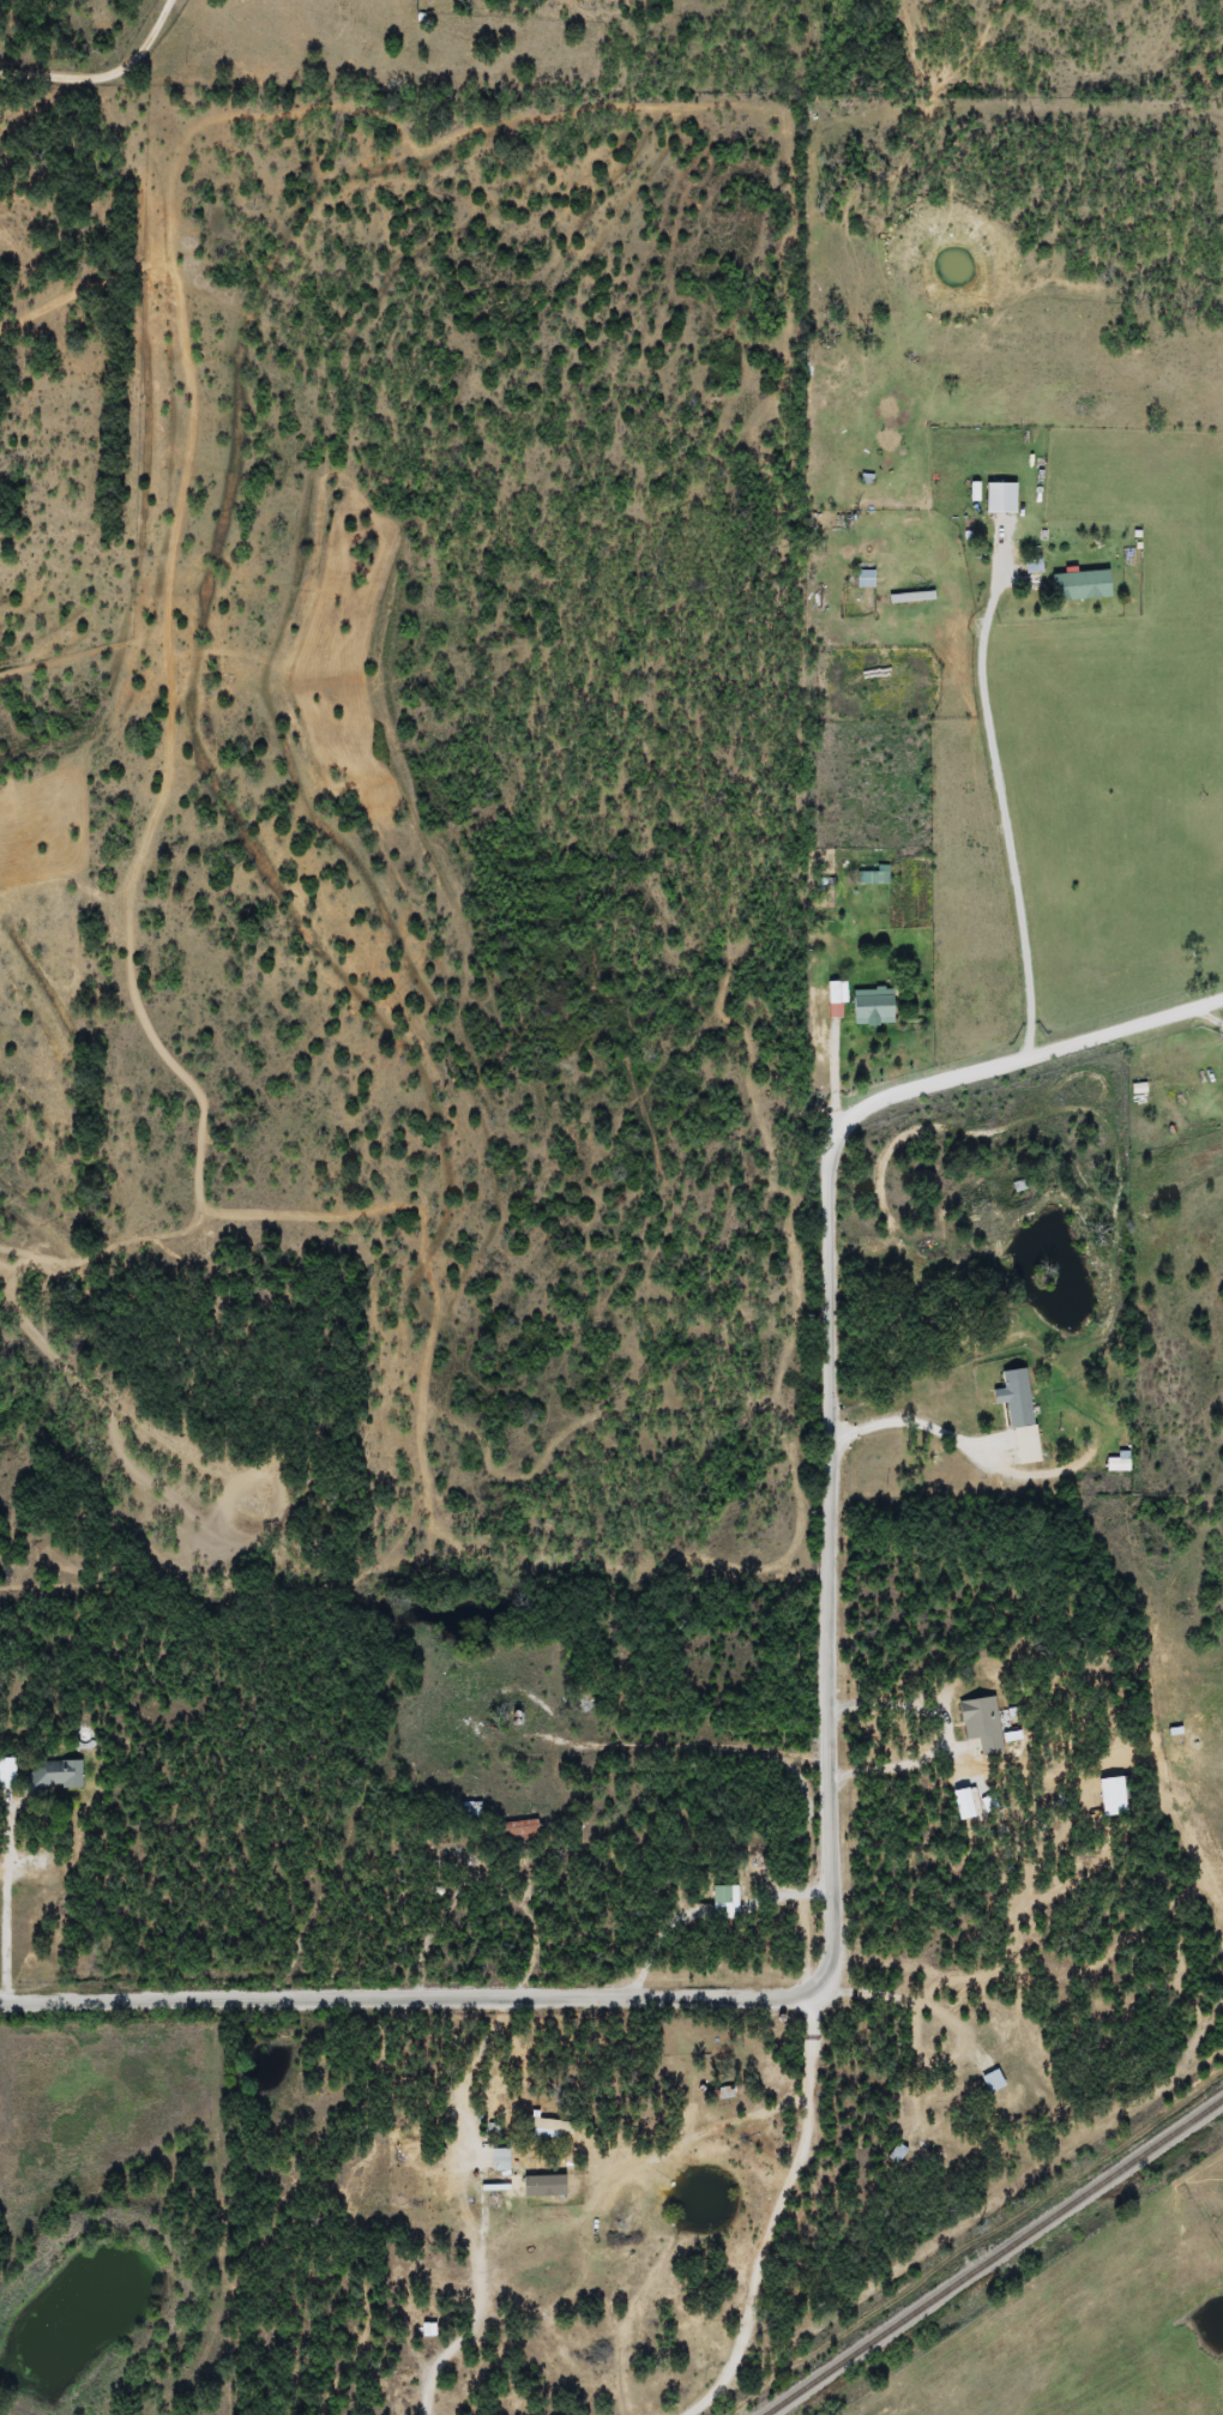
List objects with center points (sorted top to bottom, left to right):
road: (98, 91)
building: (996, 498)
building: (1078, 585)
building: (833, 994)
building: (870, 1007)
road: (829, 1361)
building: (1017, 1413)
building: (1116, 1462)
building: (980, 1723)
building: (10, 1772)
building: (58, 1775)
building: (1109, 1796)
building: (724, 1902)
road: (607, 1995)
road: (1205, 2024)
building: (990, 2080)
building: (544, 2128)
building: (894, 2152)
building: (496, 2158)
road: (958, 2227)
railway: (994, 2257)
road: (703, 2402)

